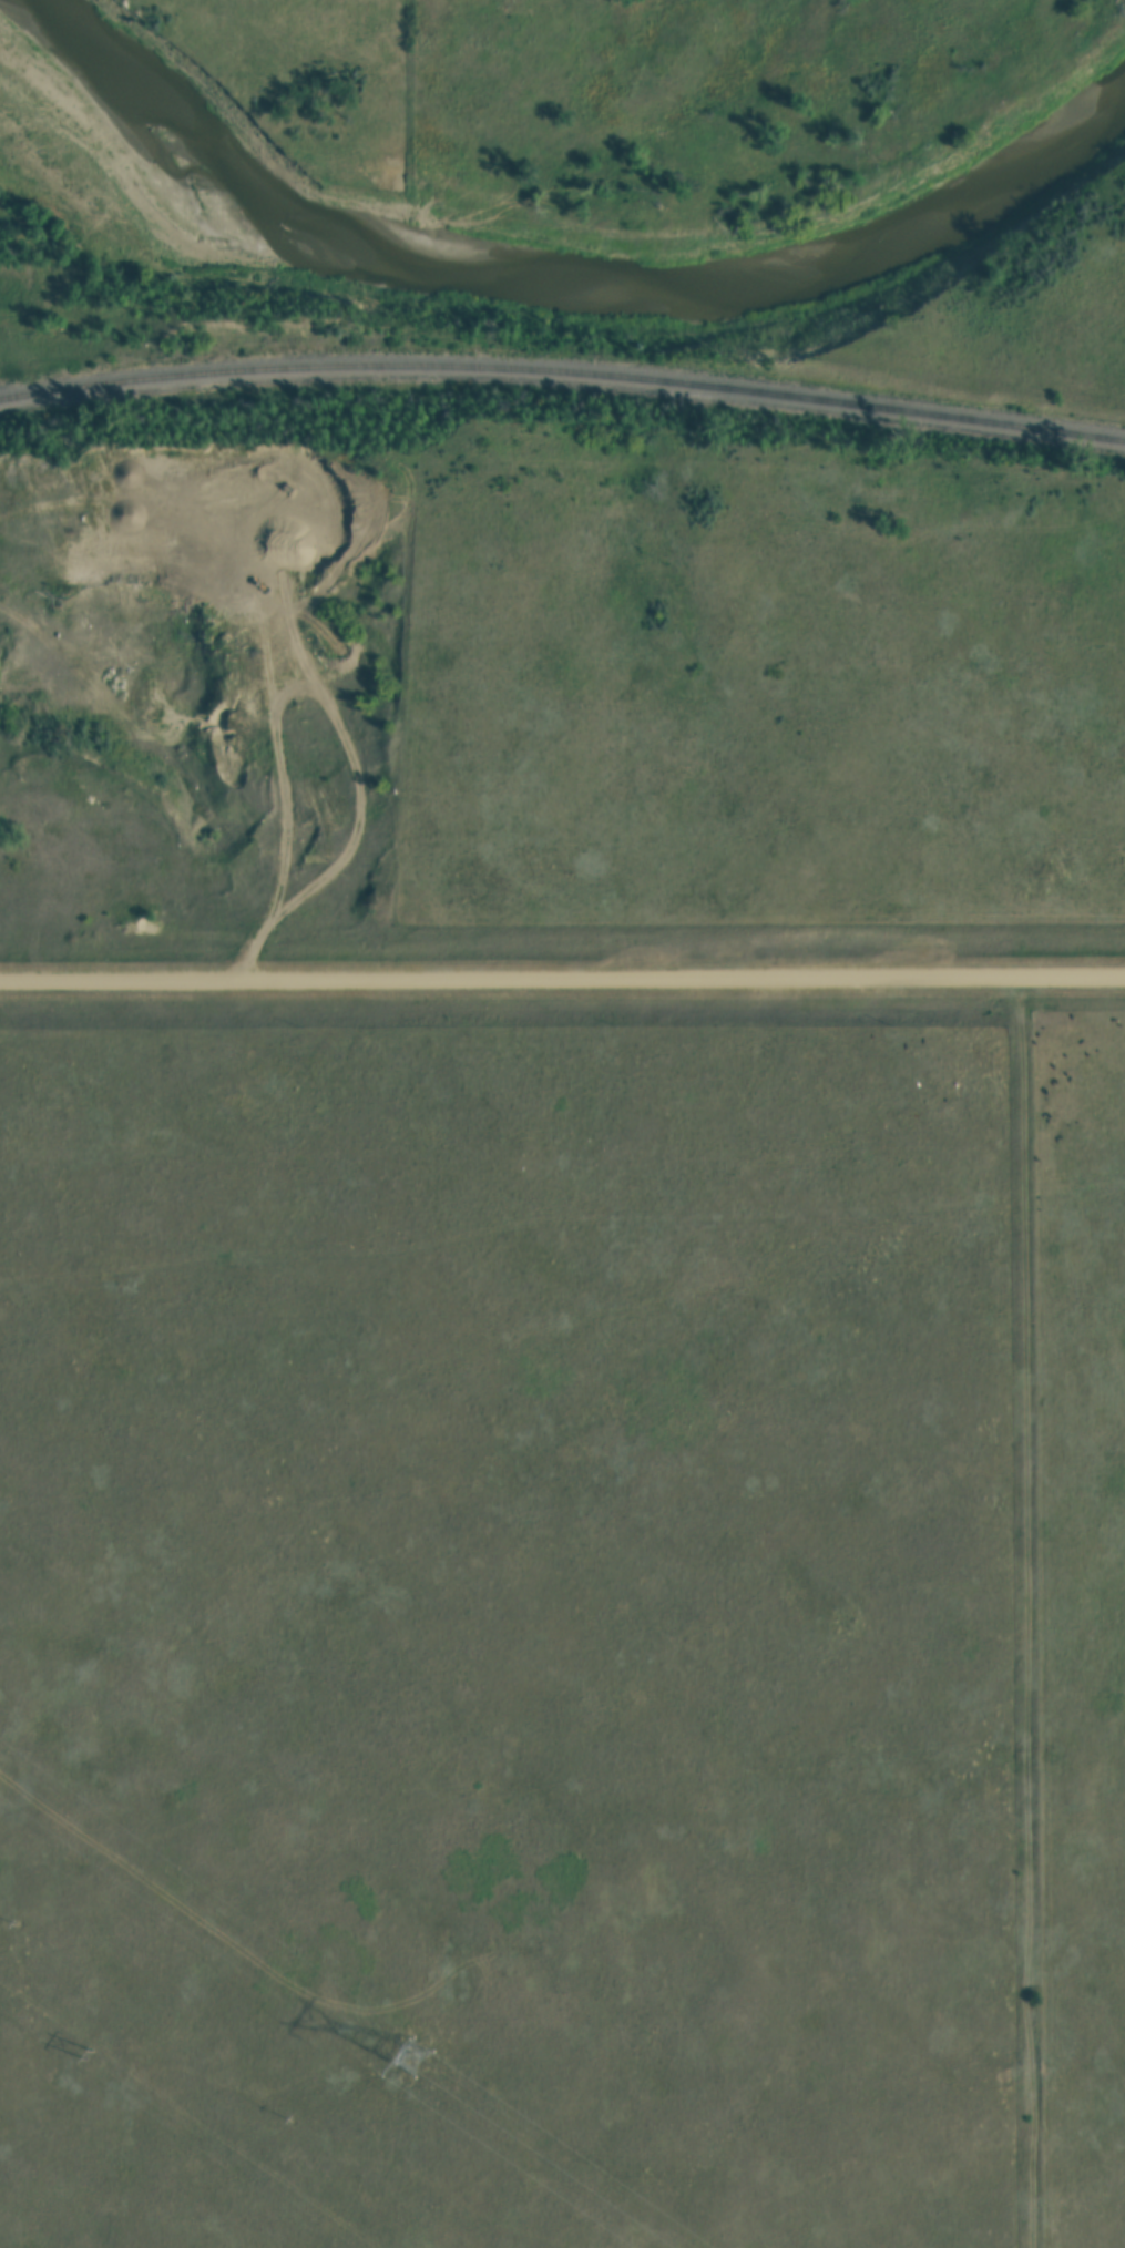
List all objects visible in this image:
railway: (563, 377)
quarry: (236, 629)
road: (356, 830)
road: (562, 979)
power tower: (392, 2064)

